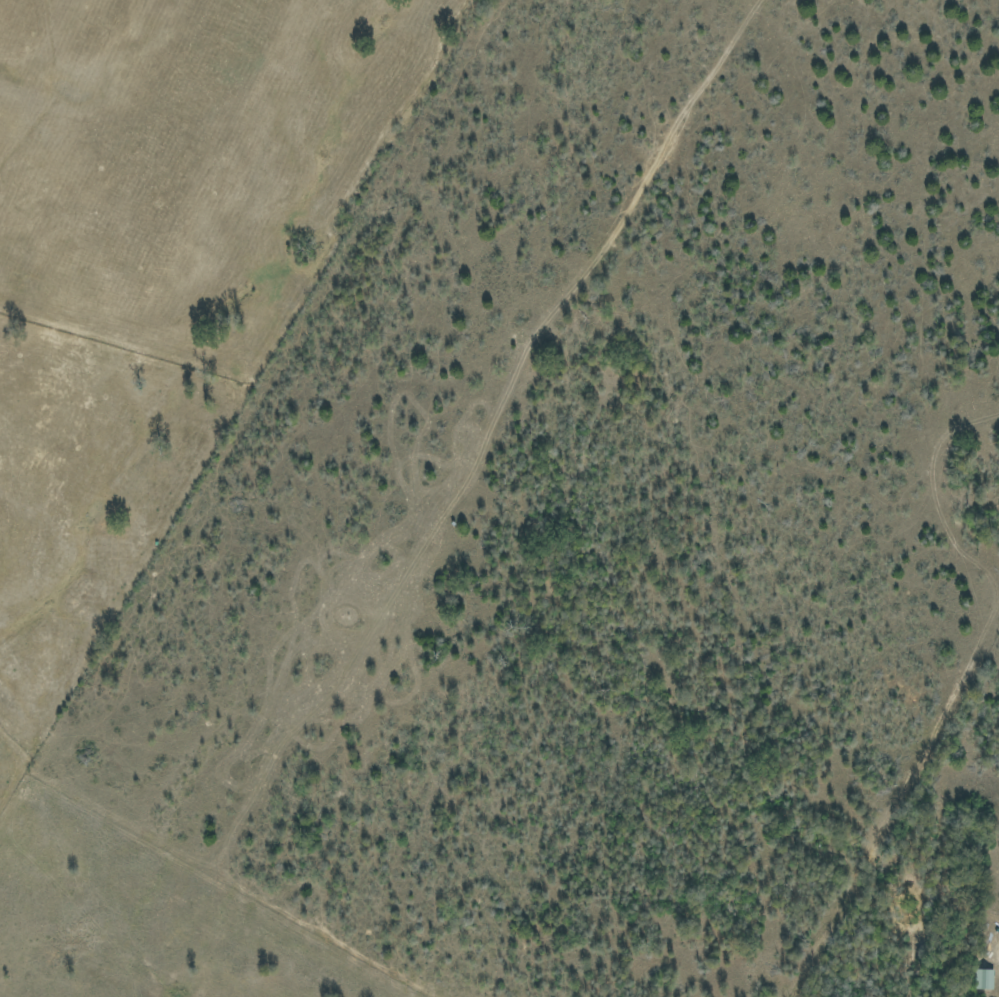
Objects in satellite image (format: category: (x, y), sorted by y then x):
road: (457, 499)
building: (983, 979)

